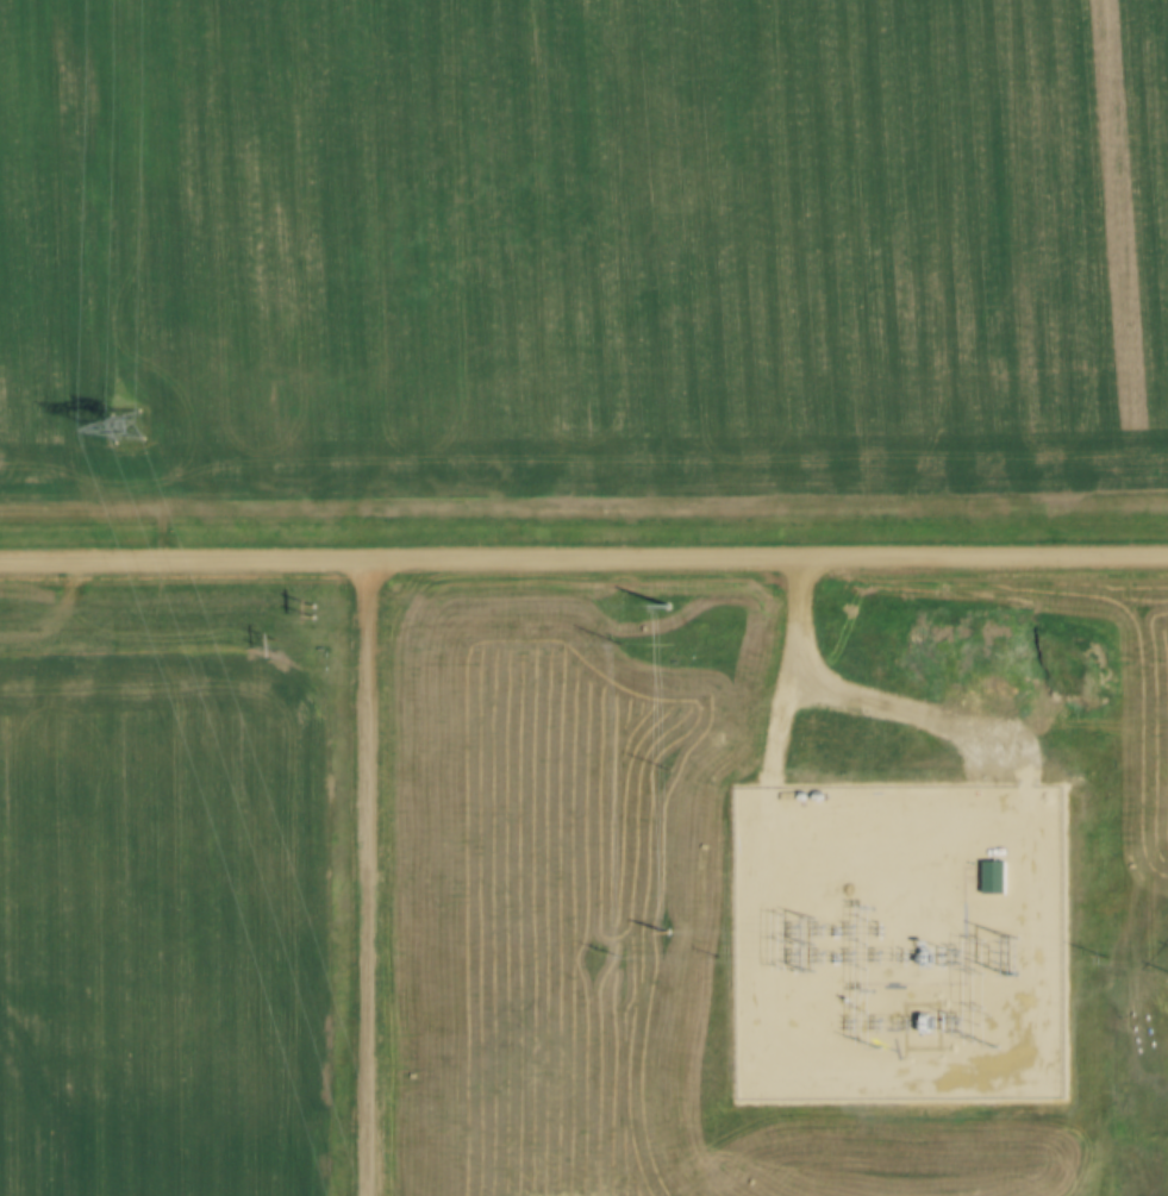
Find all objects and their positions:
power tower: (129, 421)
road: (583, 559)
road: (374, 878)
power substation: (893, 940)

